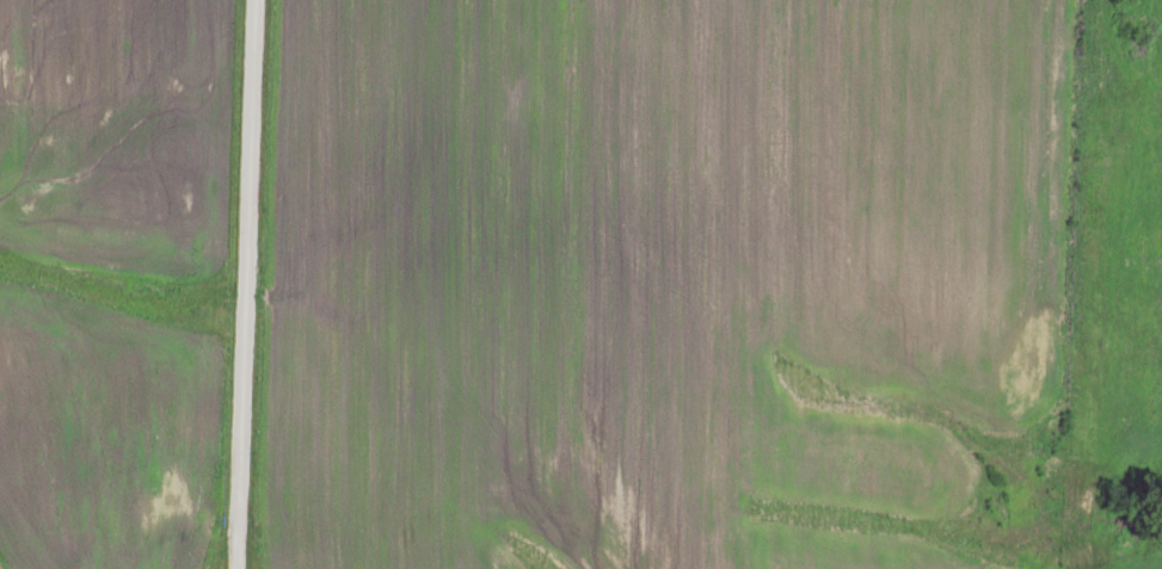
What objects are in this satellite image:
road: (248, 284)
building: (173, 496)

